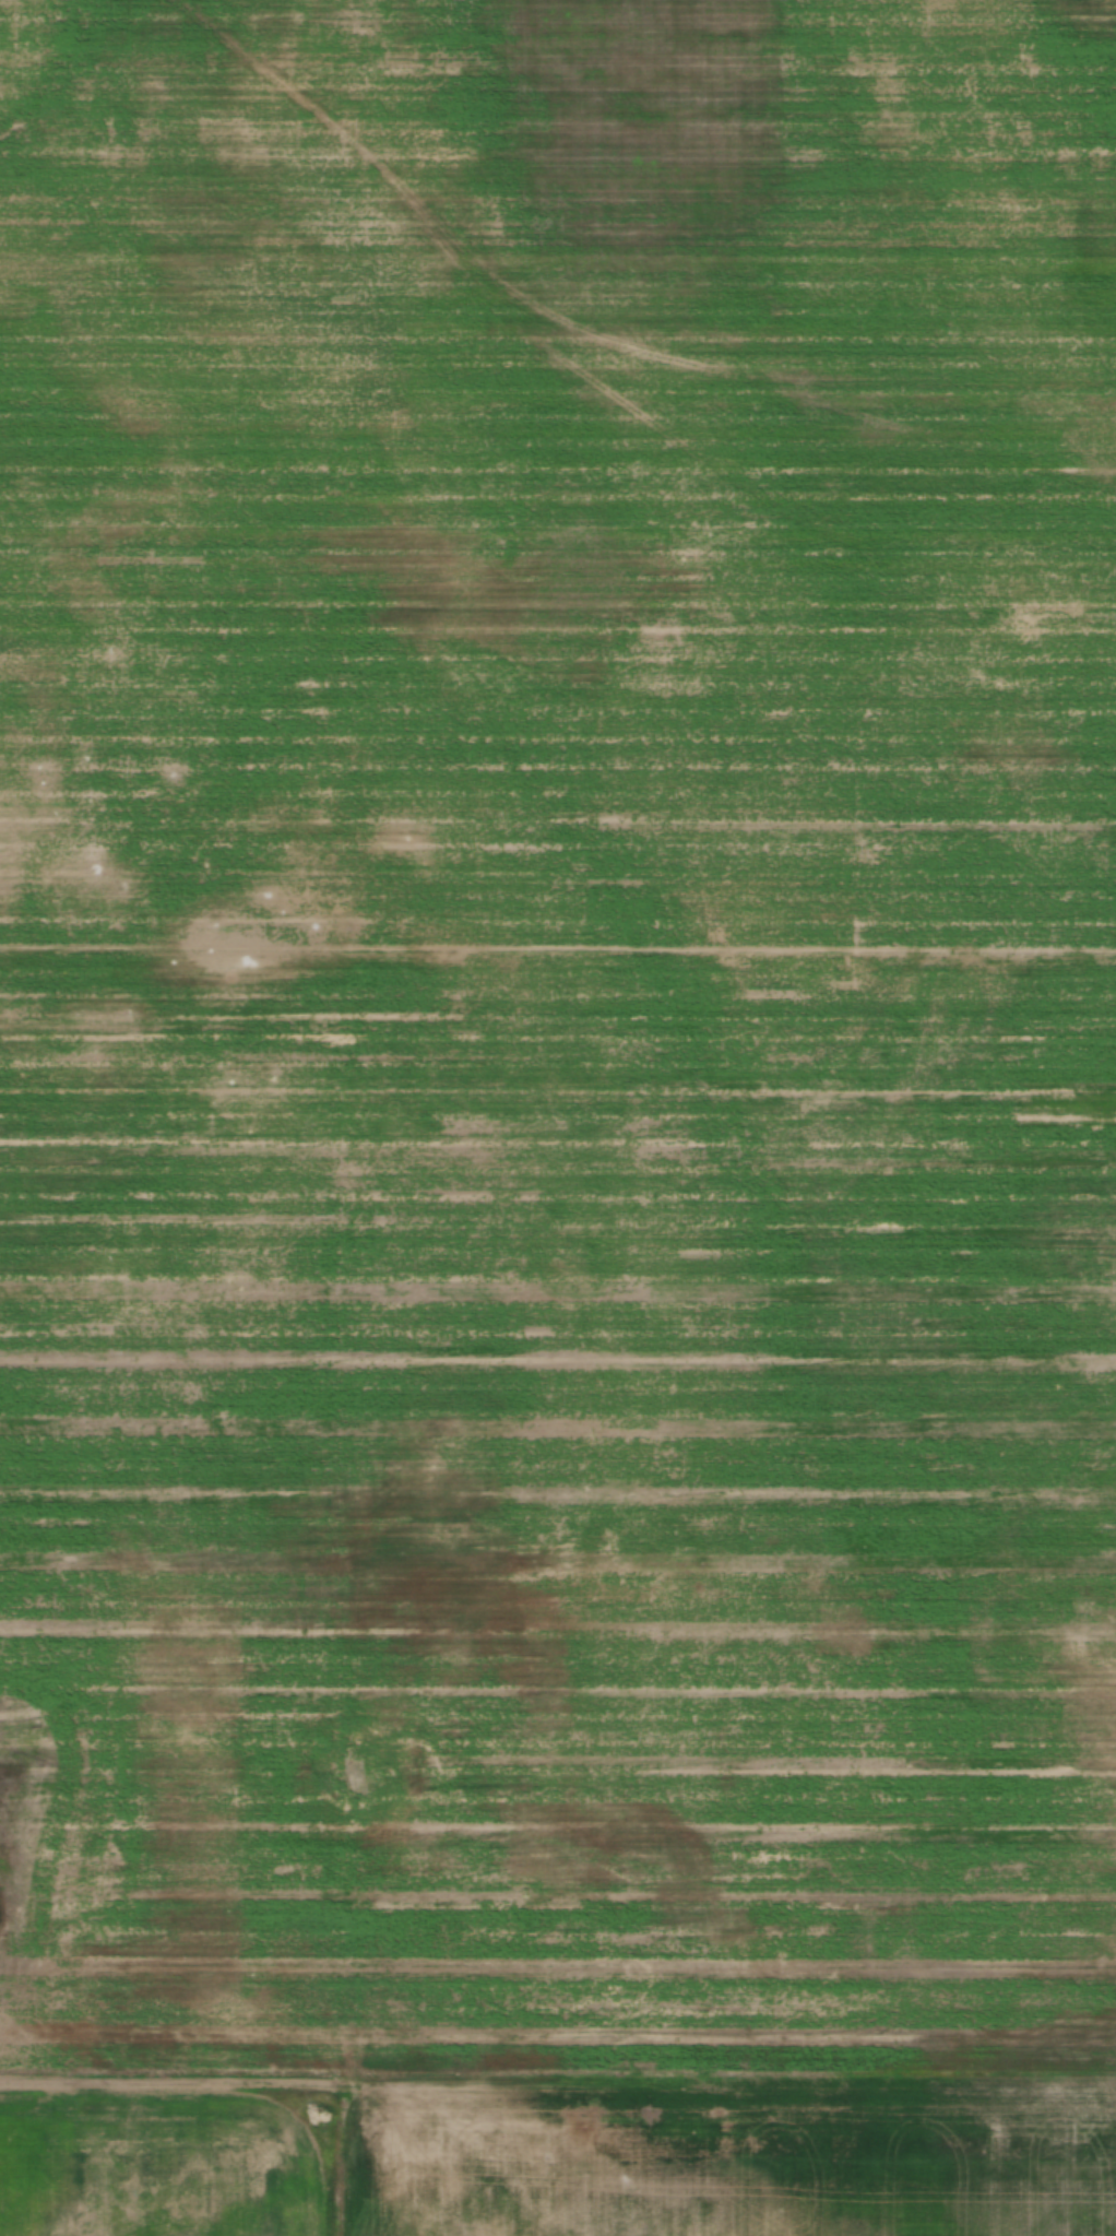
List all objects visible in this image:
road: (557, 2086)

